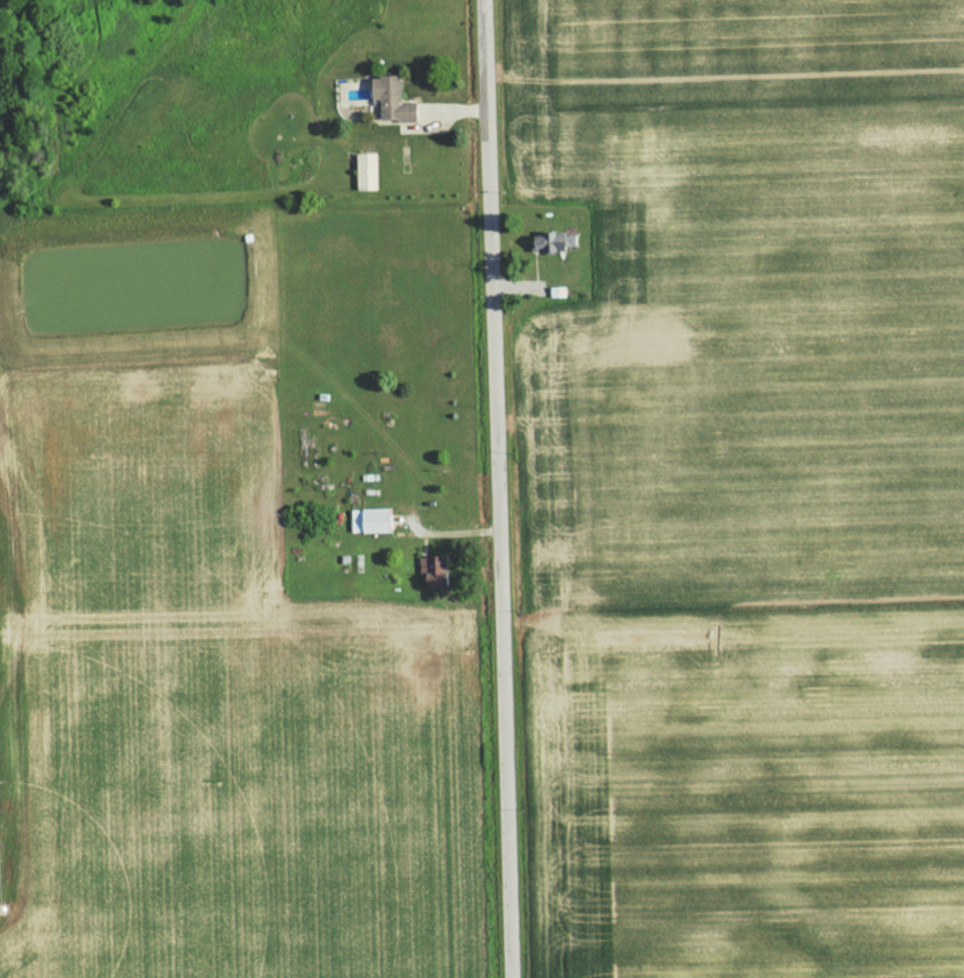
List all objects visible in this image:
building: (388, 100)
building: (365, 172)
crop: (750, 486)
road: (494, 489)
building: (369, 521)
building: (432, 570)

